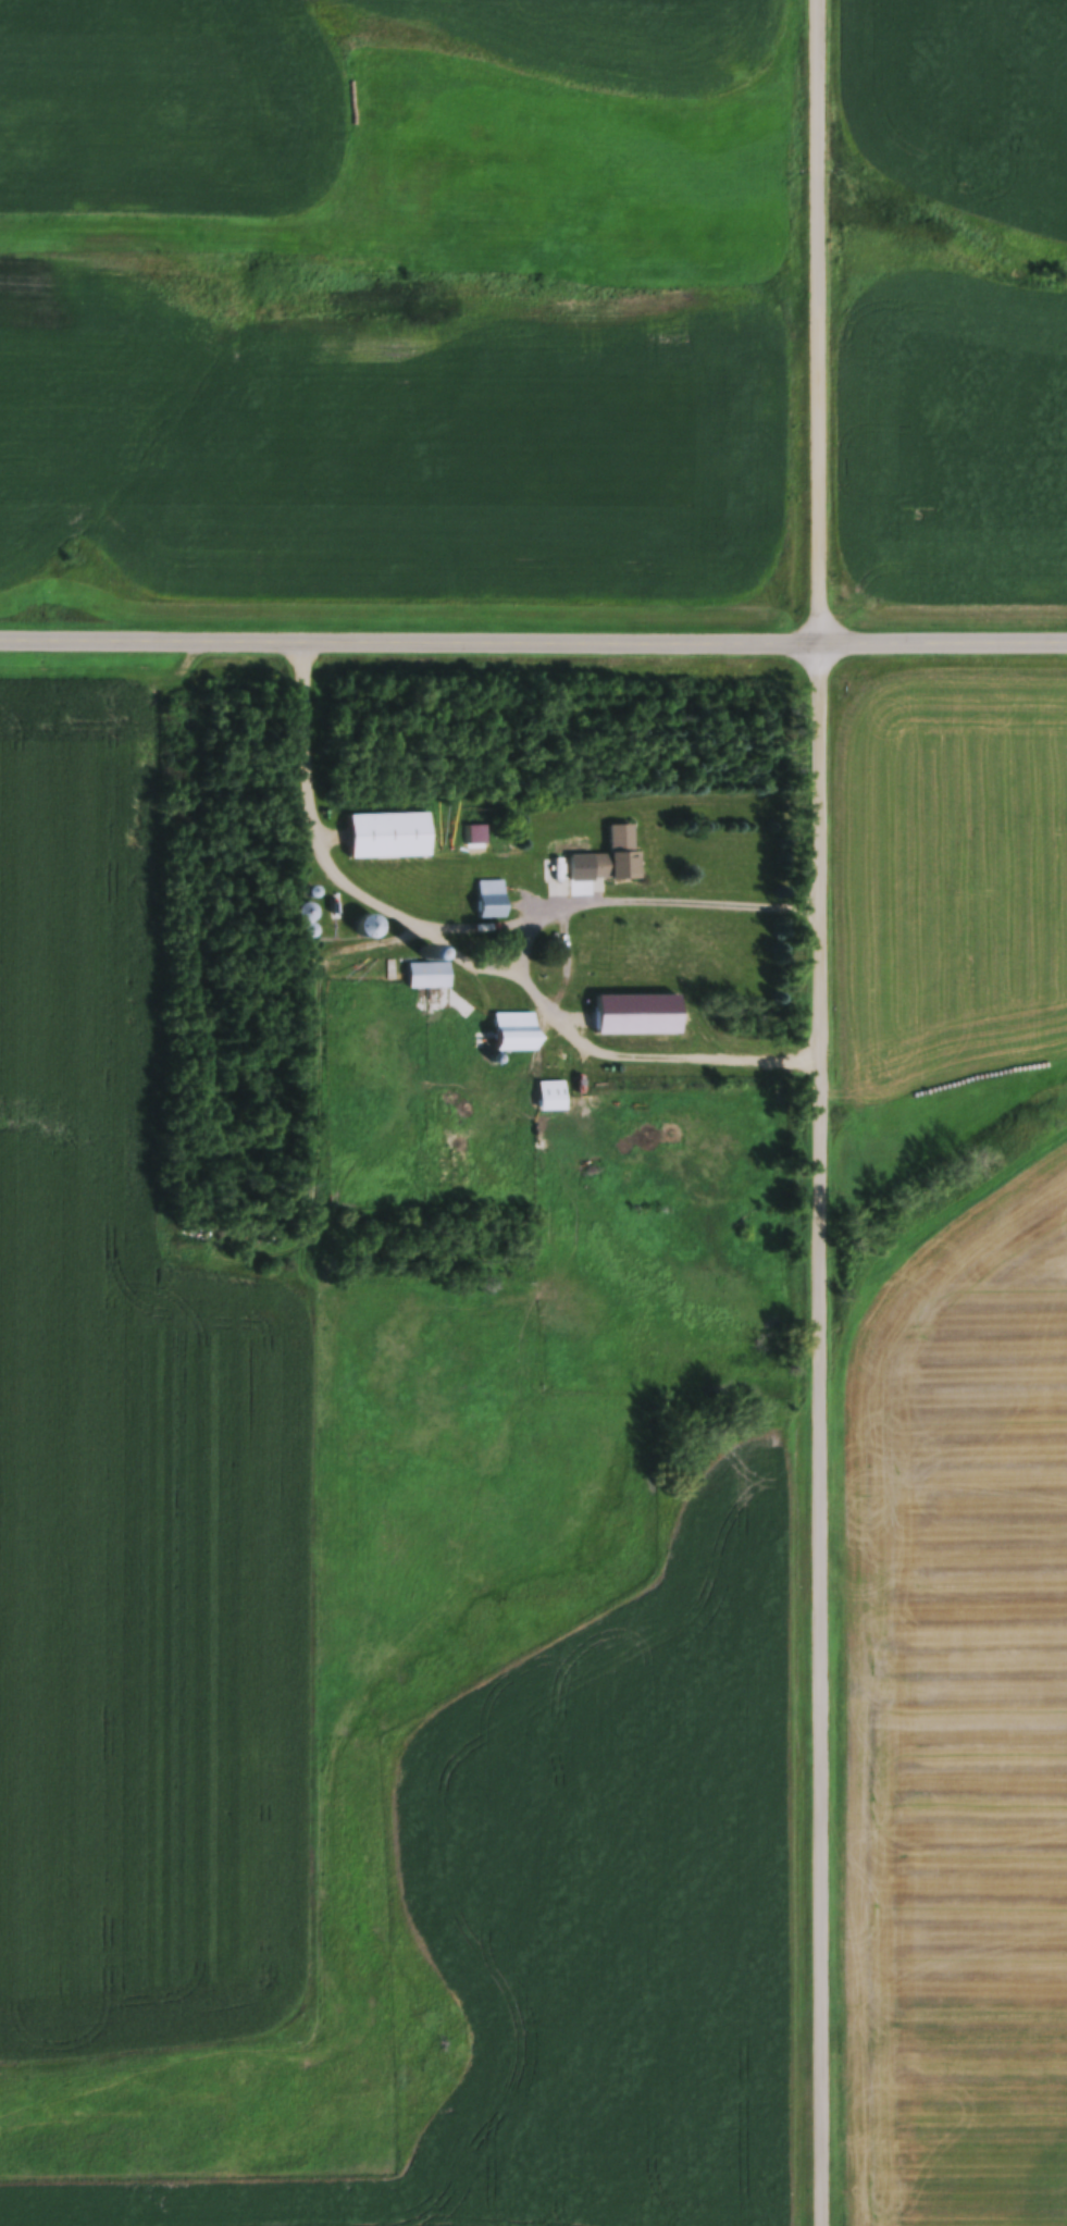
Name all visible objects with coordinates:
crop: (963, 95)
road: (410, 639)
road: (944, 640)
building: (386, 824)
building: (619, 856)
building: (551, 877)
building: (489, 900)
road: (457, 922)
building: (426, 965)
building: (634, 1002)
building: (511, 1021)
building: (550, 1087)
road: (821, 1113)
building: (889, 1133)

